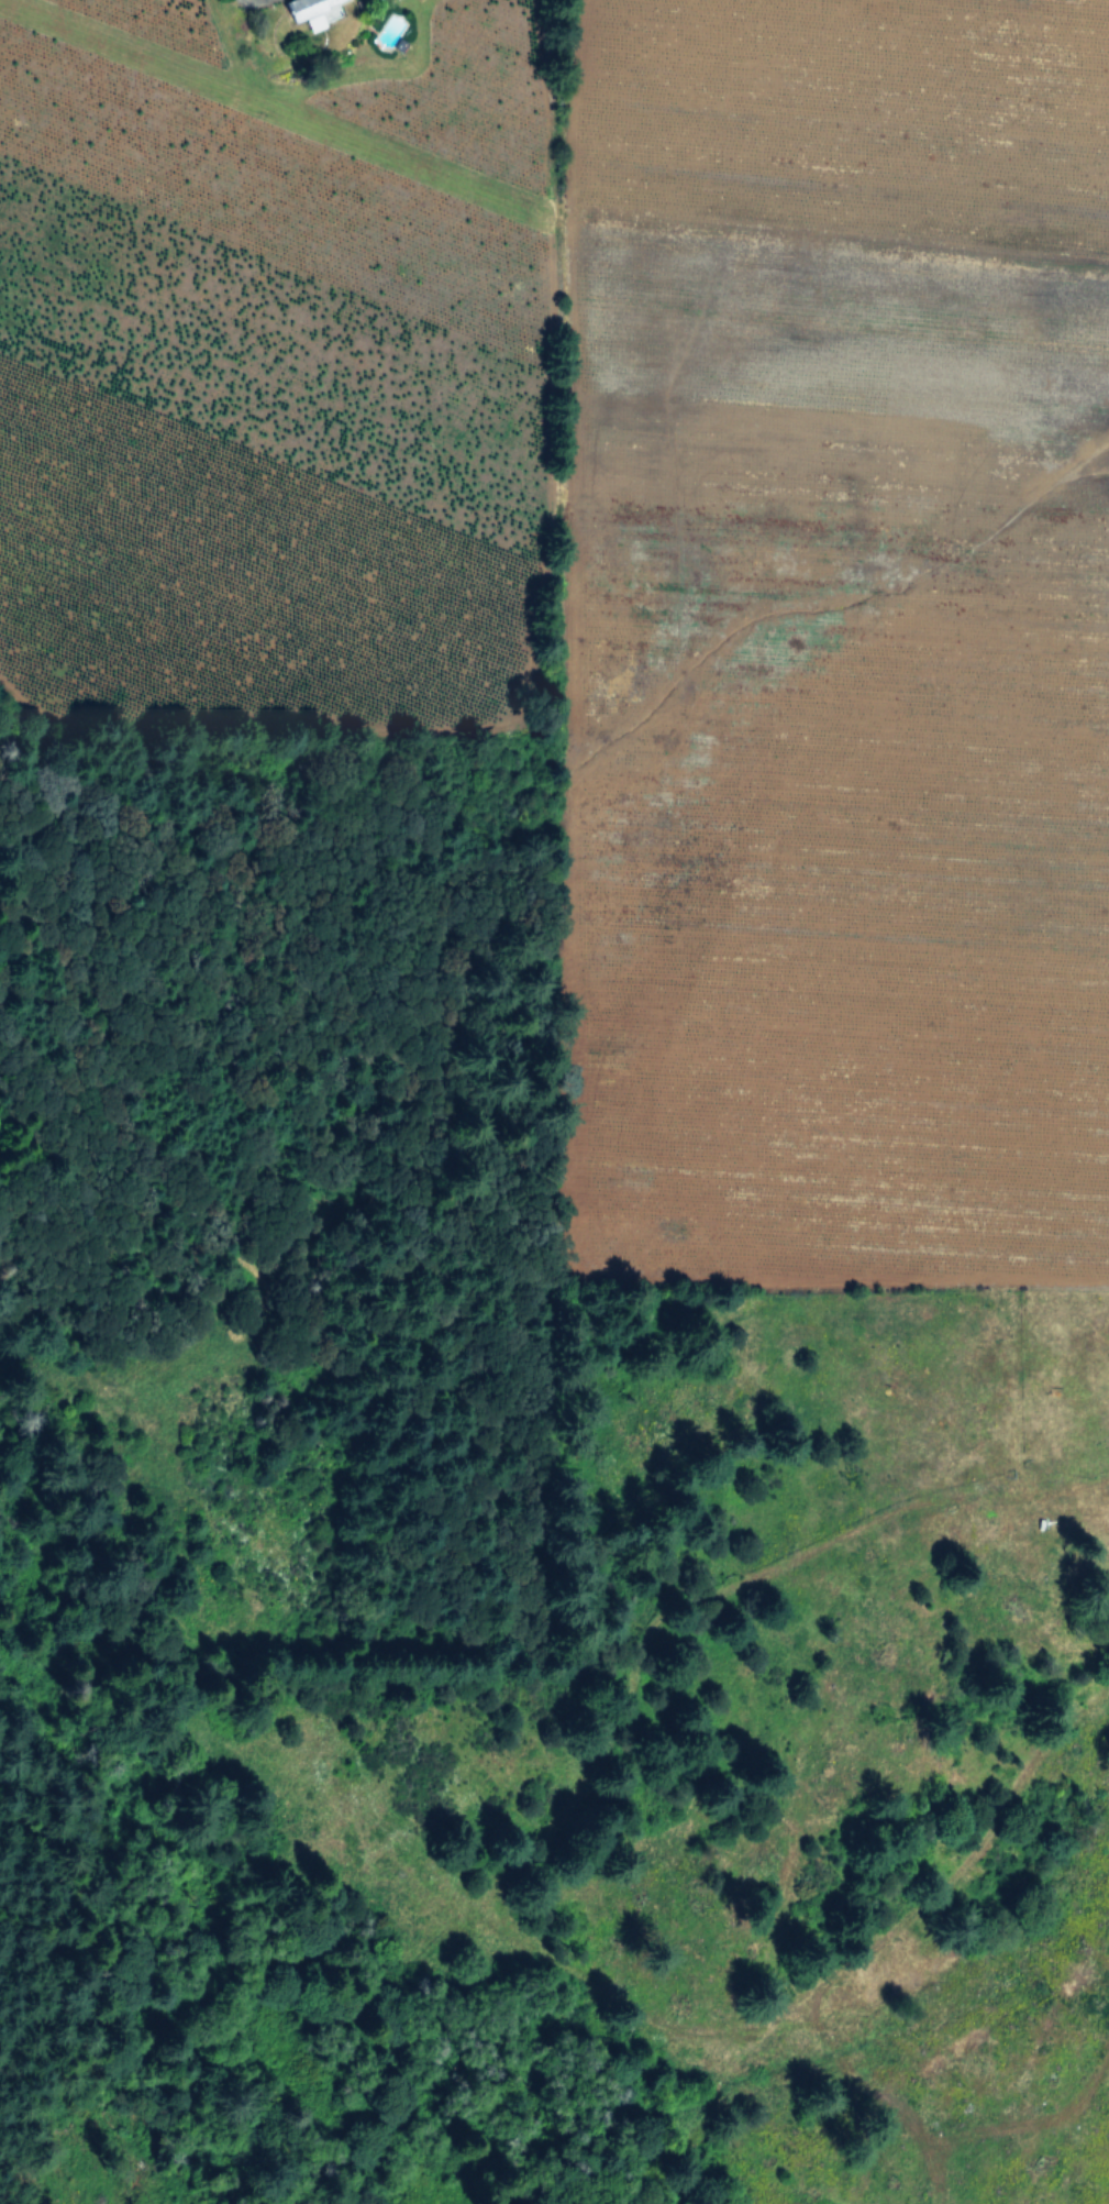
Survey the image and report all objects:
road: (254, 5)
building: (310, 11)

